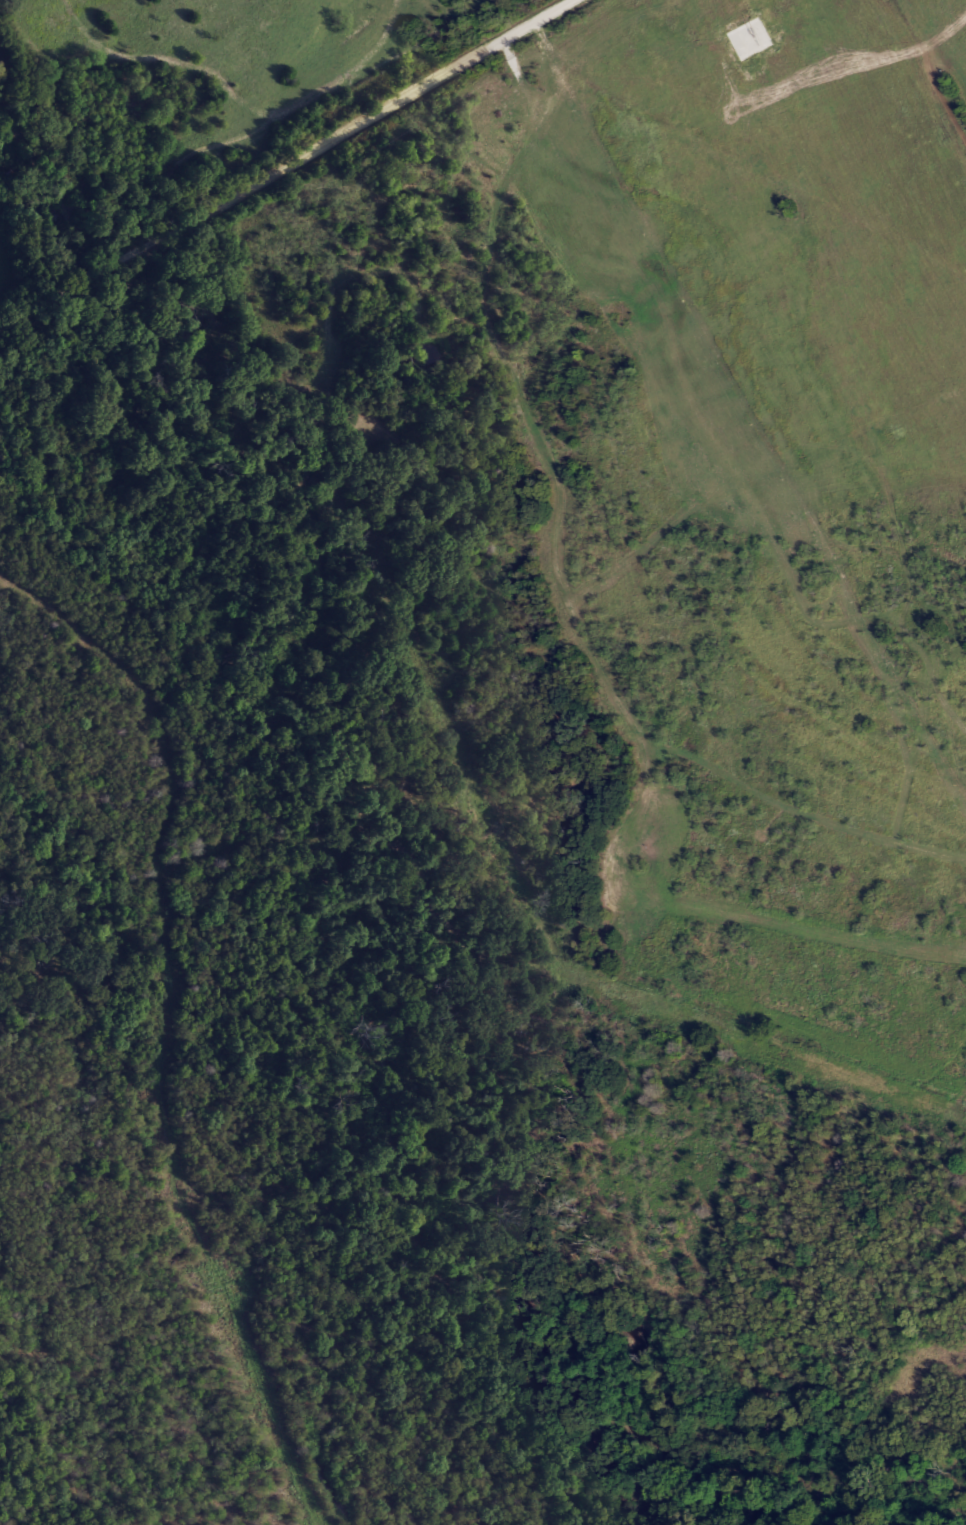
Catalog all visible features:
road: (933, 53)
road: (285, 165)
road: (566, 253)

